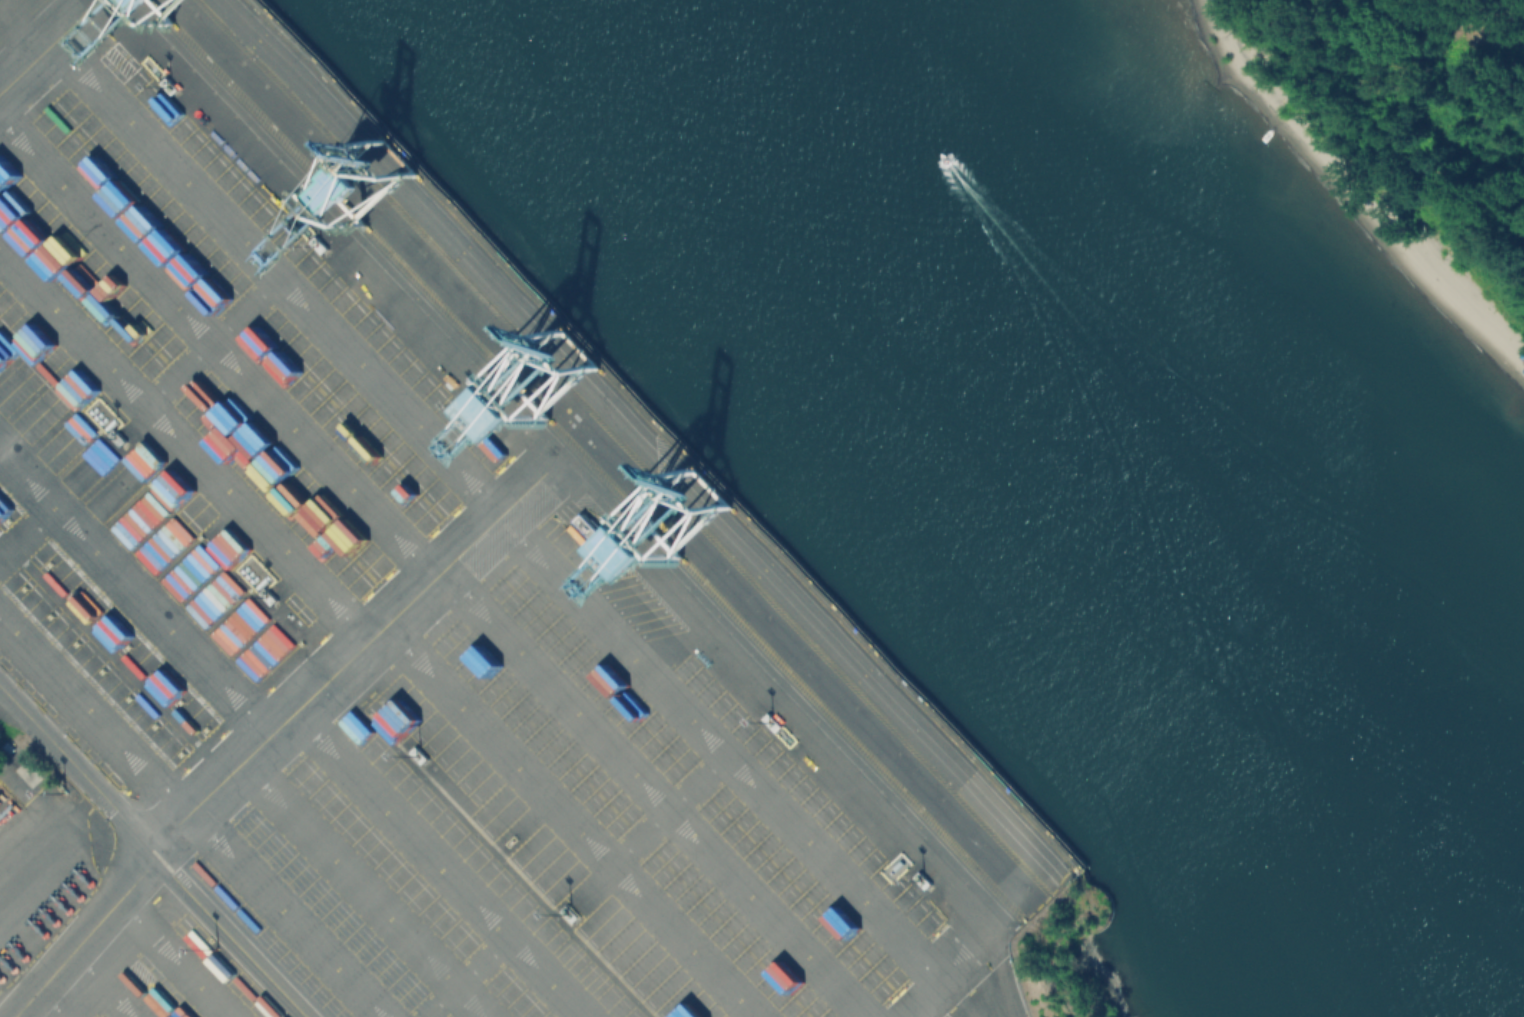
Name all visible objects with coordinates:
road: (1458, 29)
road: (40, 54)
building: (170, 86)
building: (321, 245)
building: (472, 404)
building: (81, 427)
railway: (663, 433)
building: (120, 438)
railway: (622, 448)
river: (1208, 472)
road: (498, 511)
building: (597, 534)
building: (622, 563)
railway: (691, 575)
building: (271, 596)
building: (773, 722)
road: (270, 735)
building: (8, 747)
building: (421, 755)
road: (79, 770)
building: (761, 860)
road: (29, 875)
building: (924, 880)
building: (572, 914)
road: (178, 957)
road: (939, 985)
road: (926, 1010)

